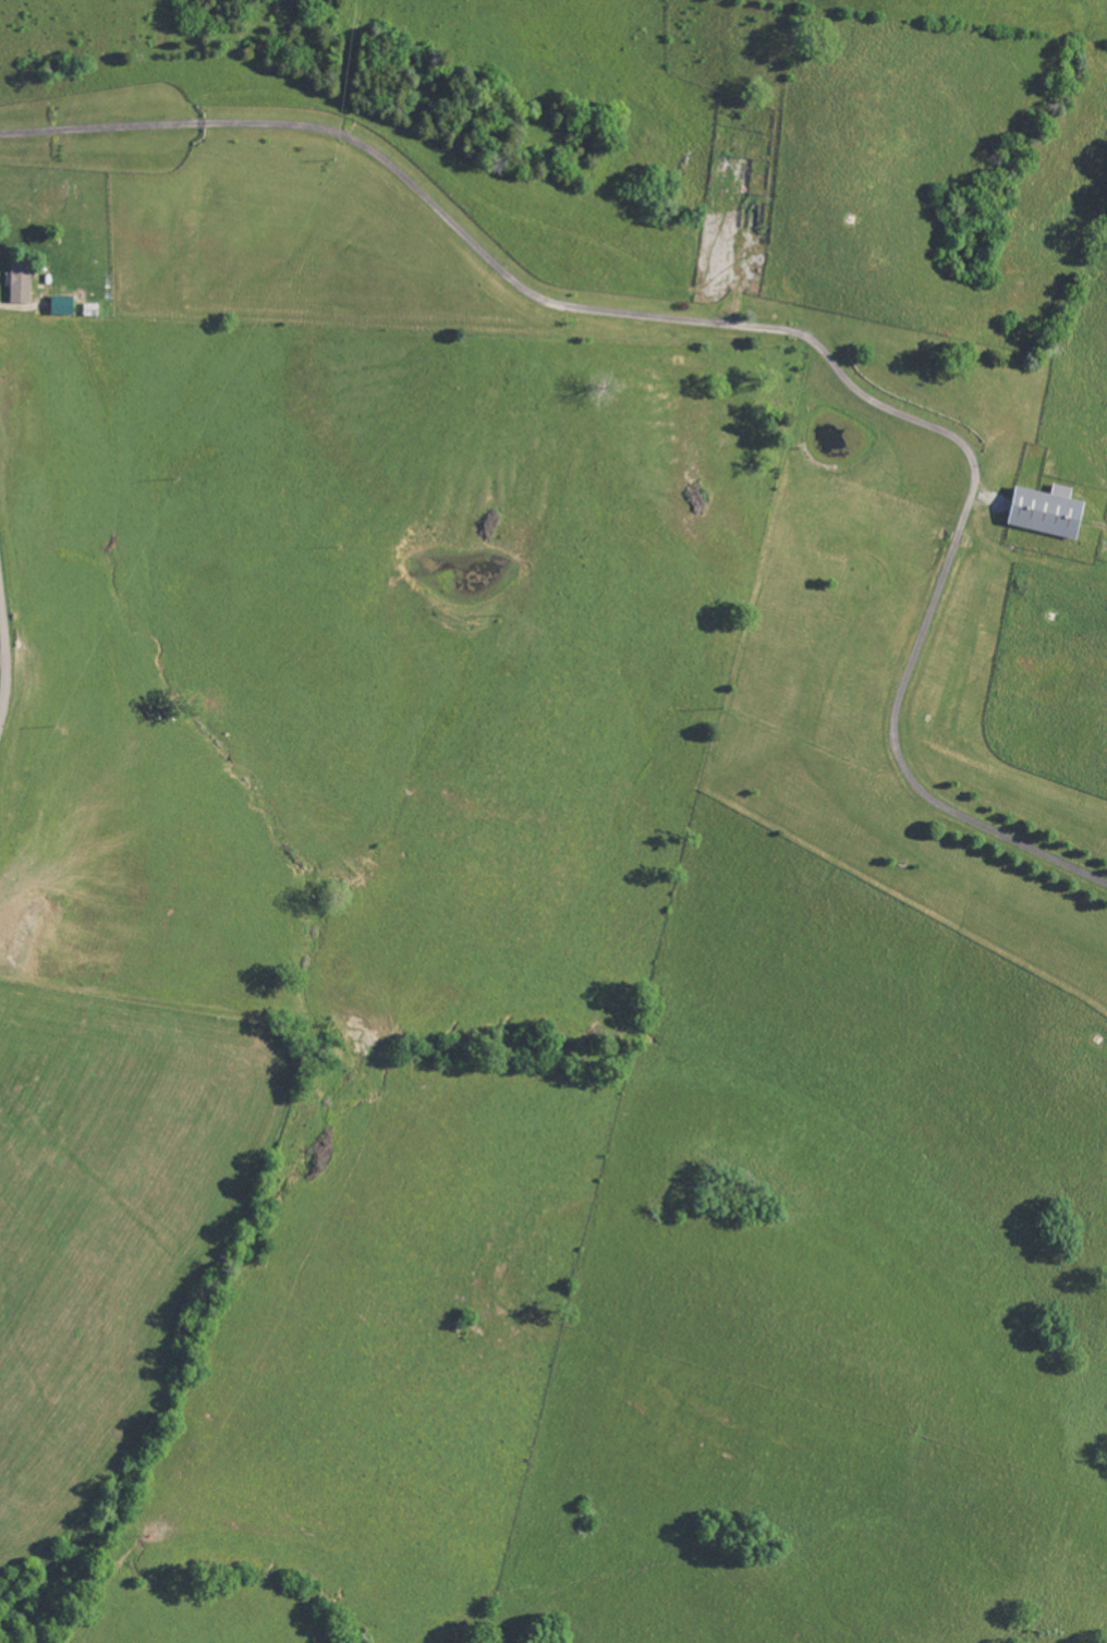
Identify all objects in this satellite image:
building: (22, 282)
building: (62, 306)
building: (1048, 512)
road: (9, 641)

